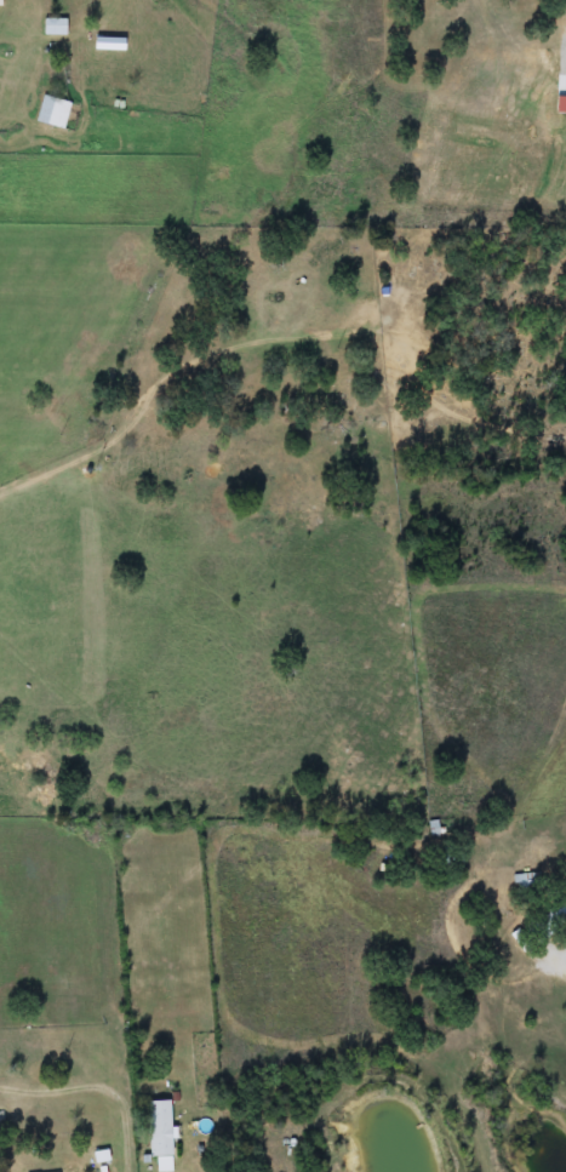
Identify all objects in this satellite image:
building: (55, 27)
building: (53, 112)
building: (526, 881)
building: (558, 915)
road: (559, 962)
building: (160, 1133)

